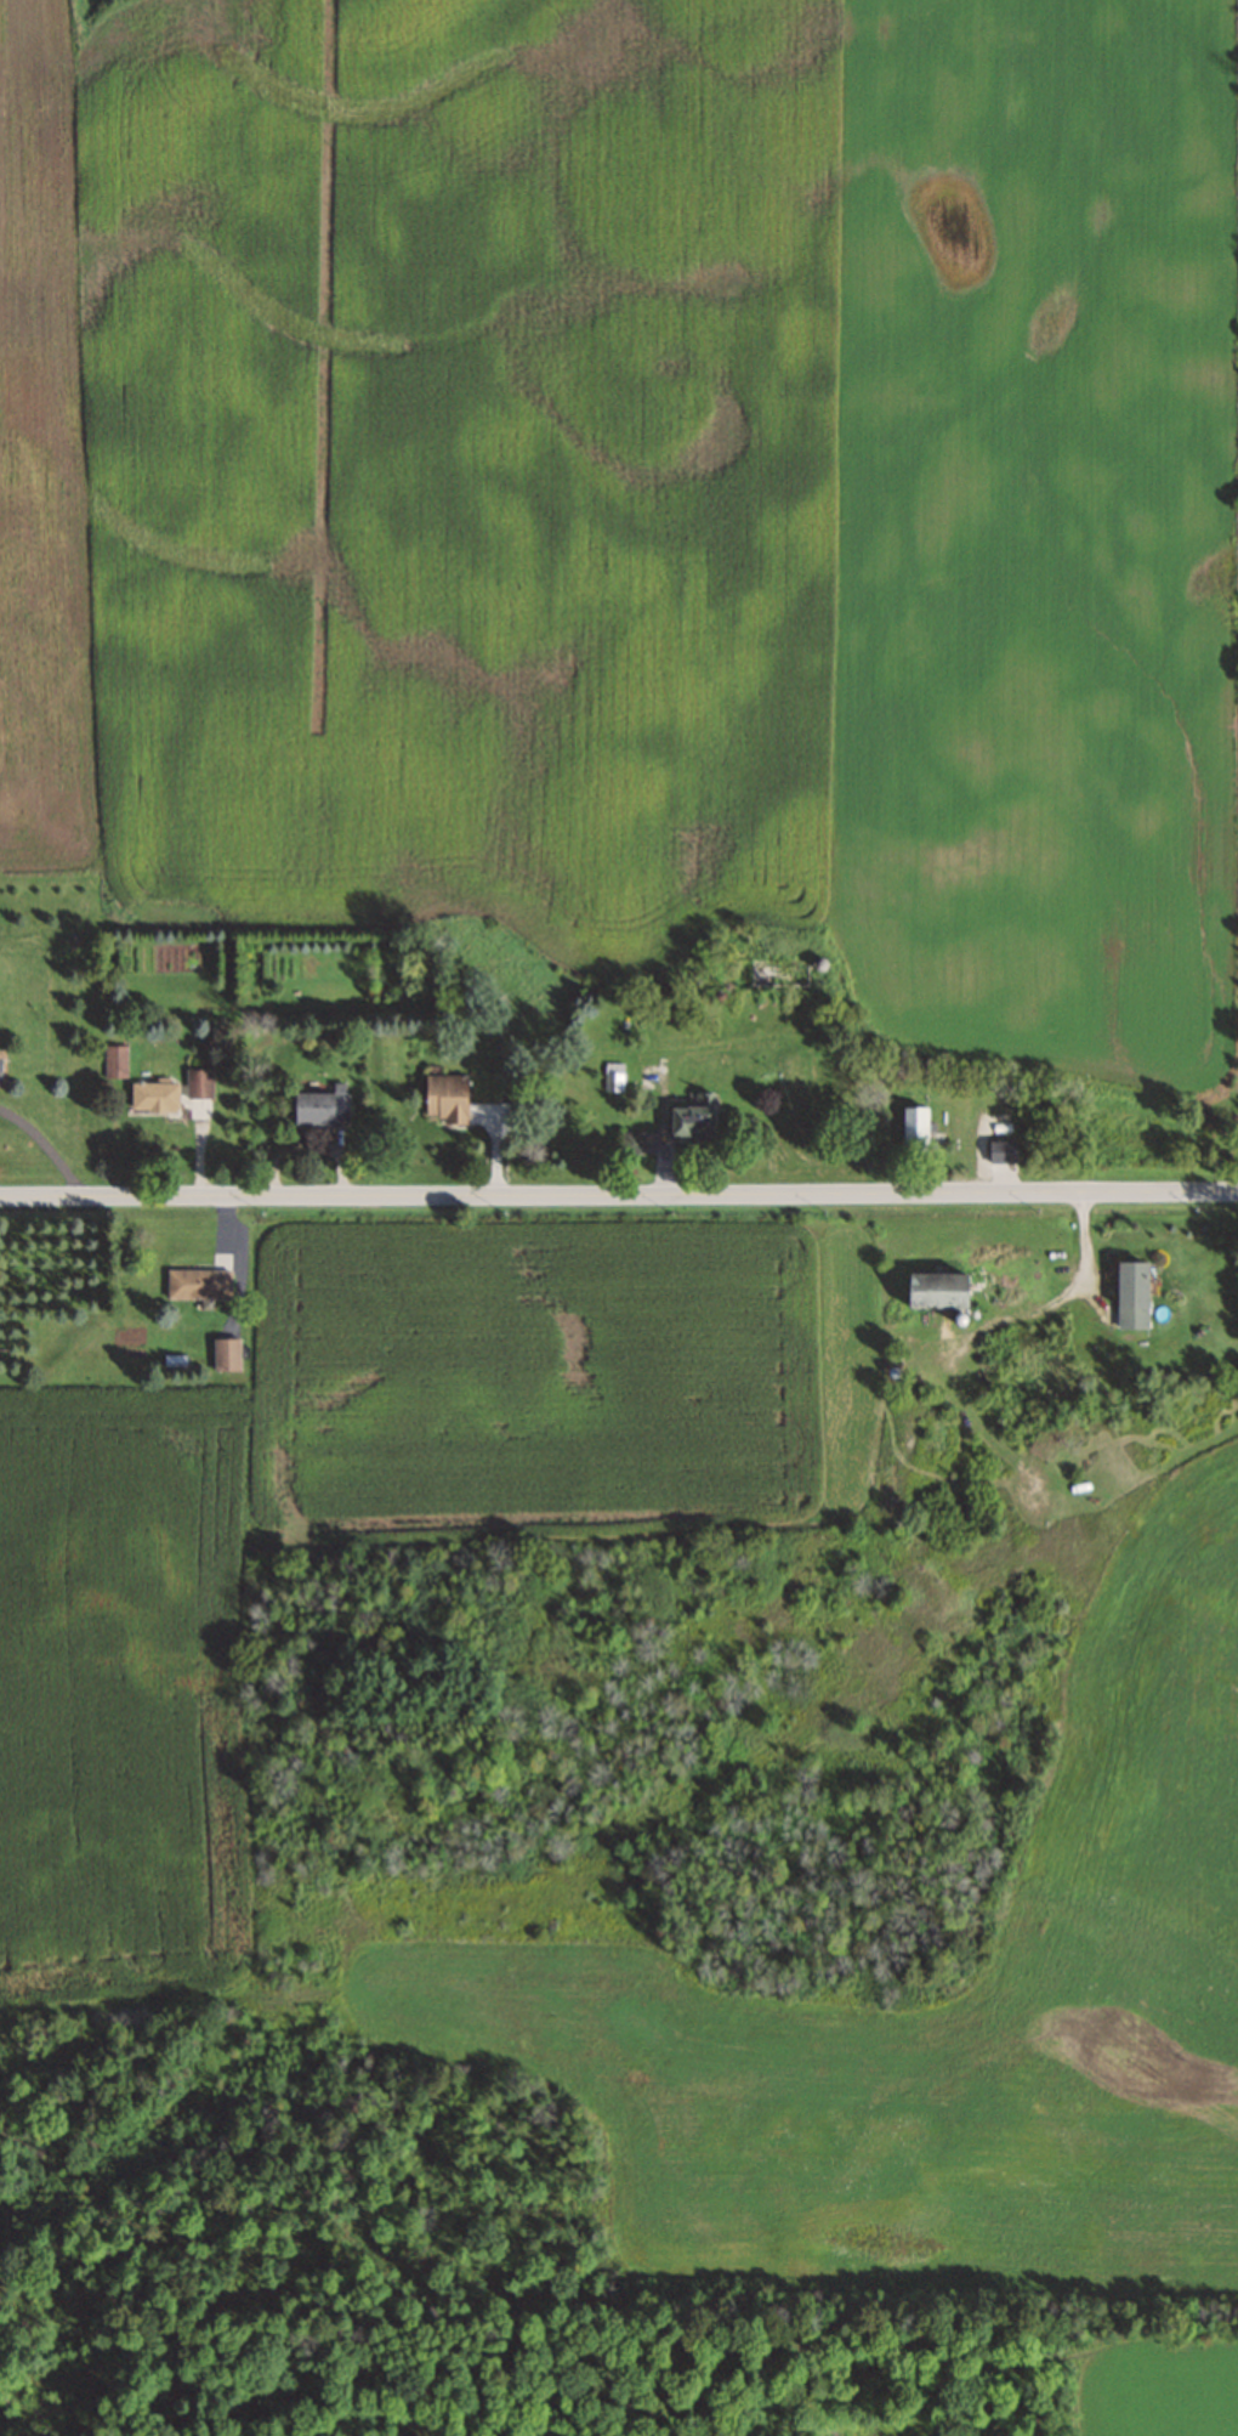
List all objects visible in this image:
building: (120, 1072)
building: (614, 1076)
building: (199, 1083)
building: (153, 1095)
building: (447, 1098)
building: (320, 1106)
building: (692, 1117)
building: (916, 1127)
building: (631, 1141)
building: (1003, 1150)
road: (619, 1195)
building: (198, 1284)
building: (933, 1290)
building: (1130, 1295)
building: (226, 1354)

